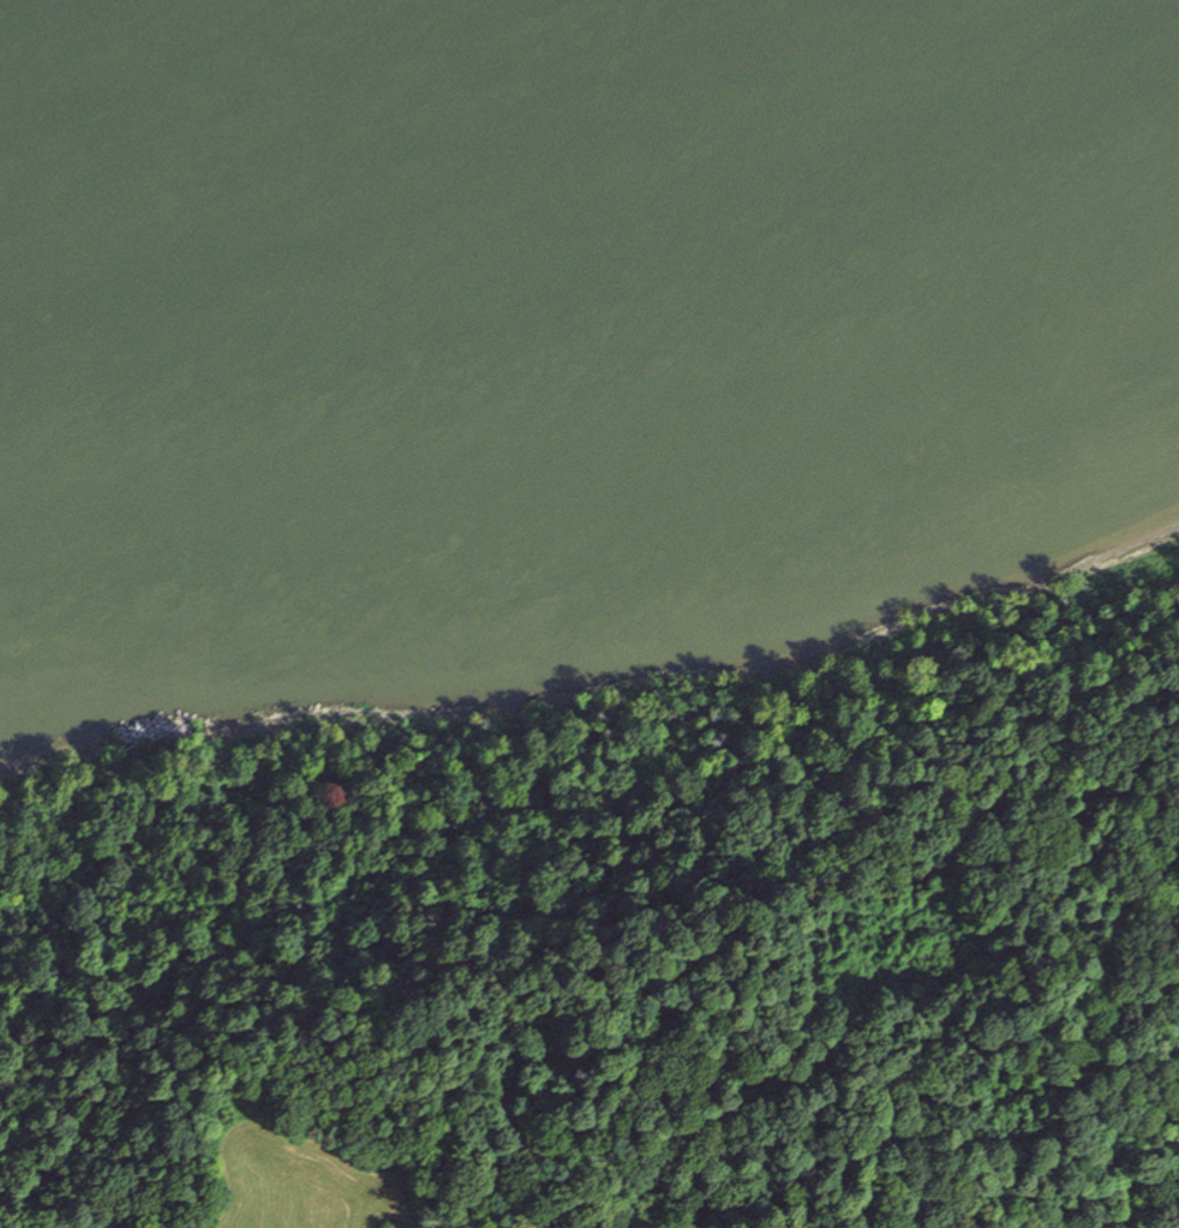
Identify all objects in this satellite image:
park: (43, 1032)

